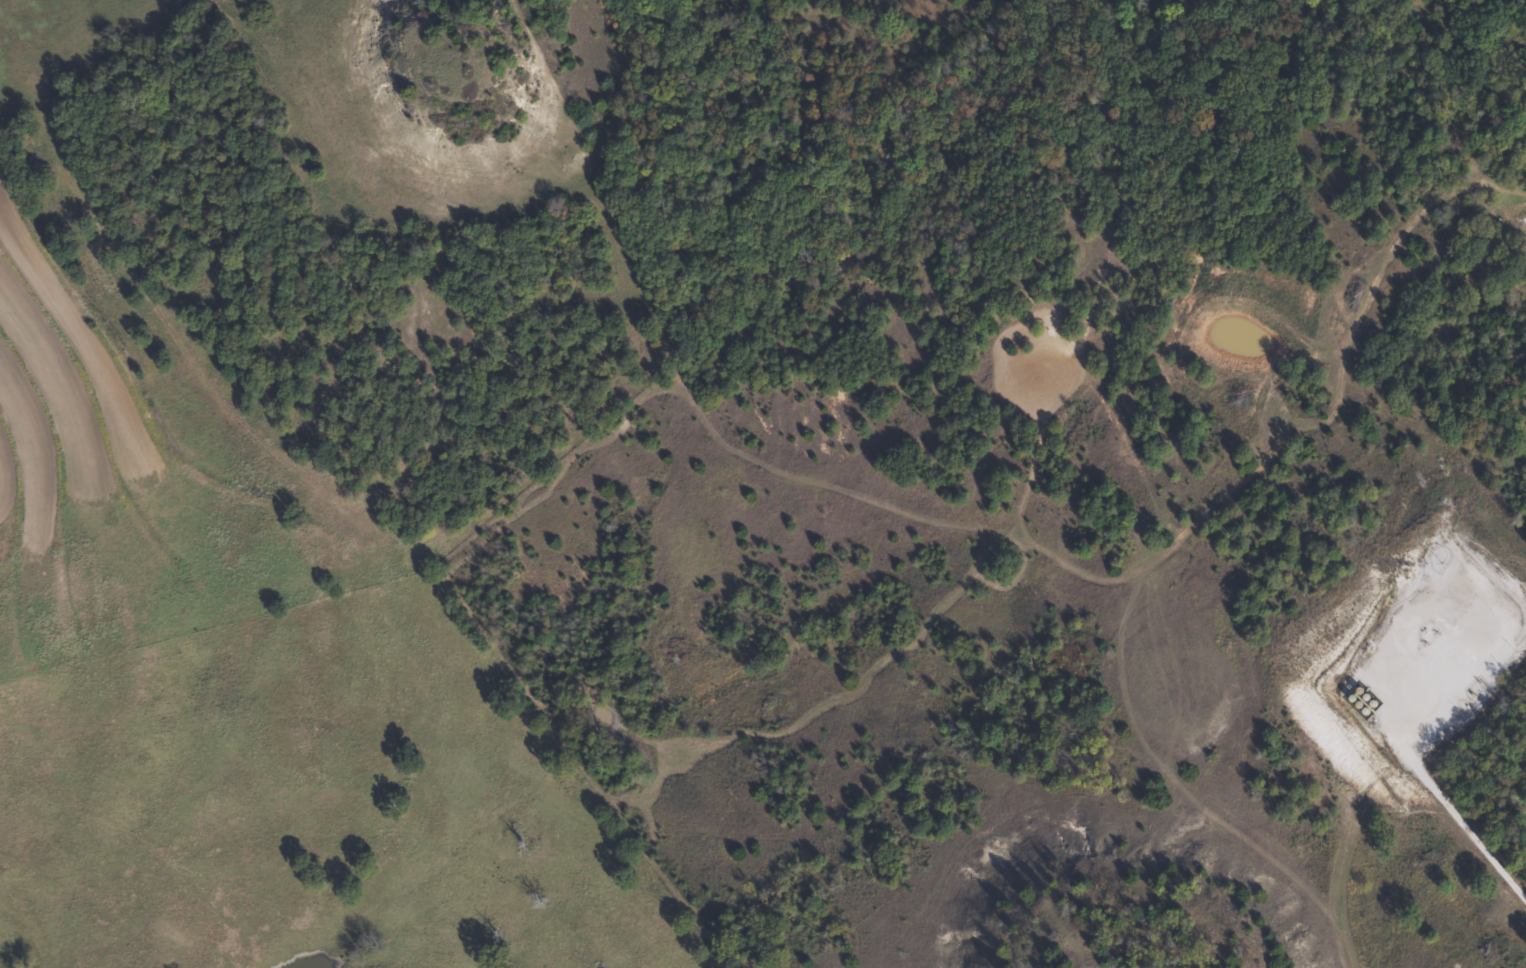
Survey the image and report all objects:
road: (1461, 828)

